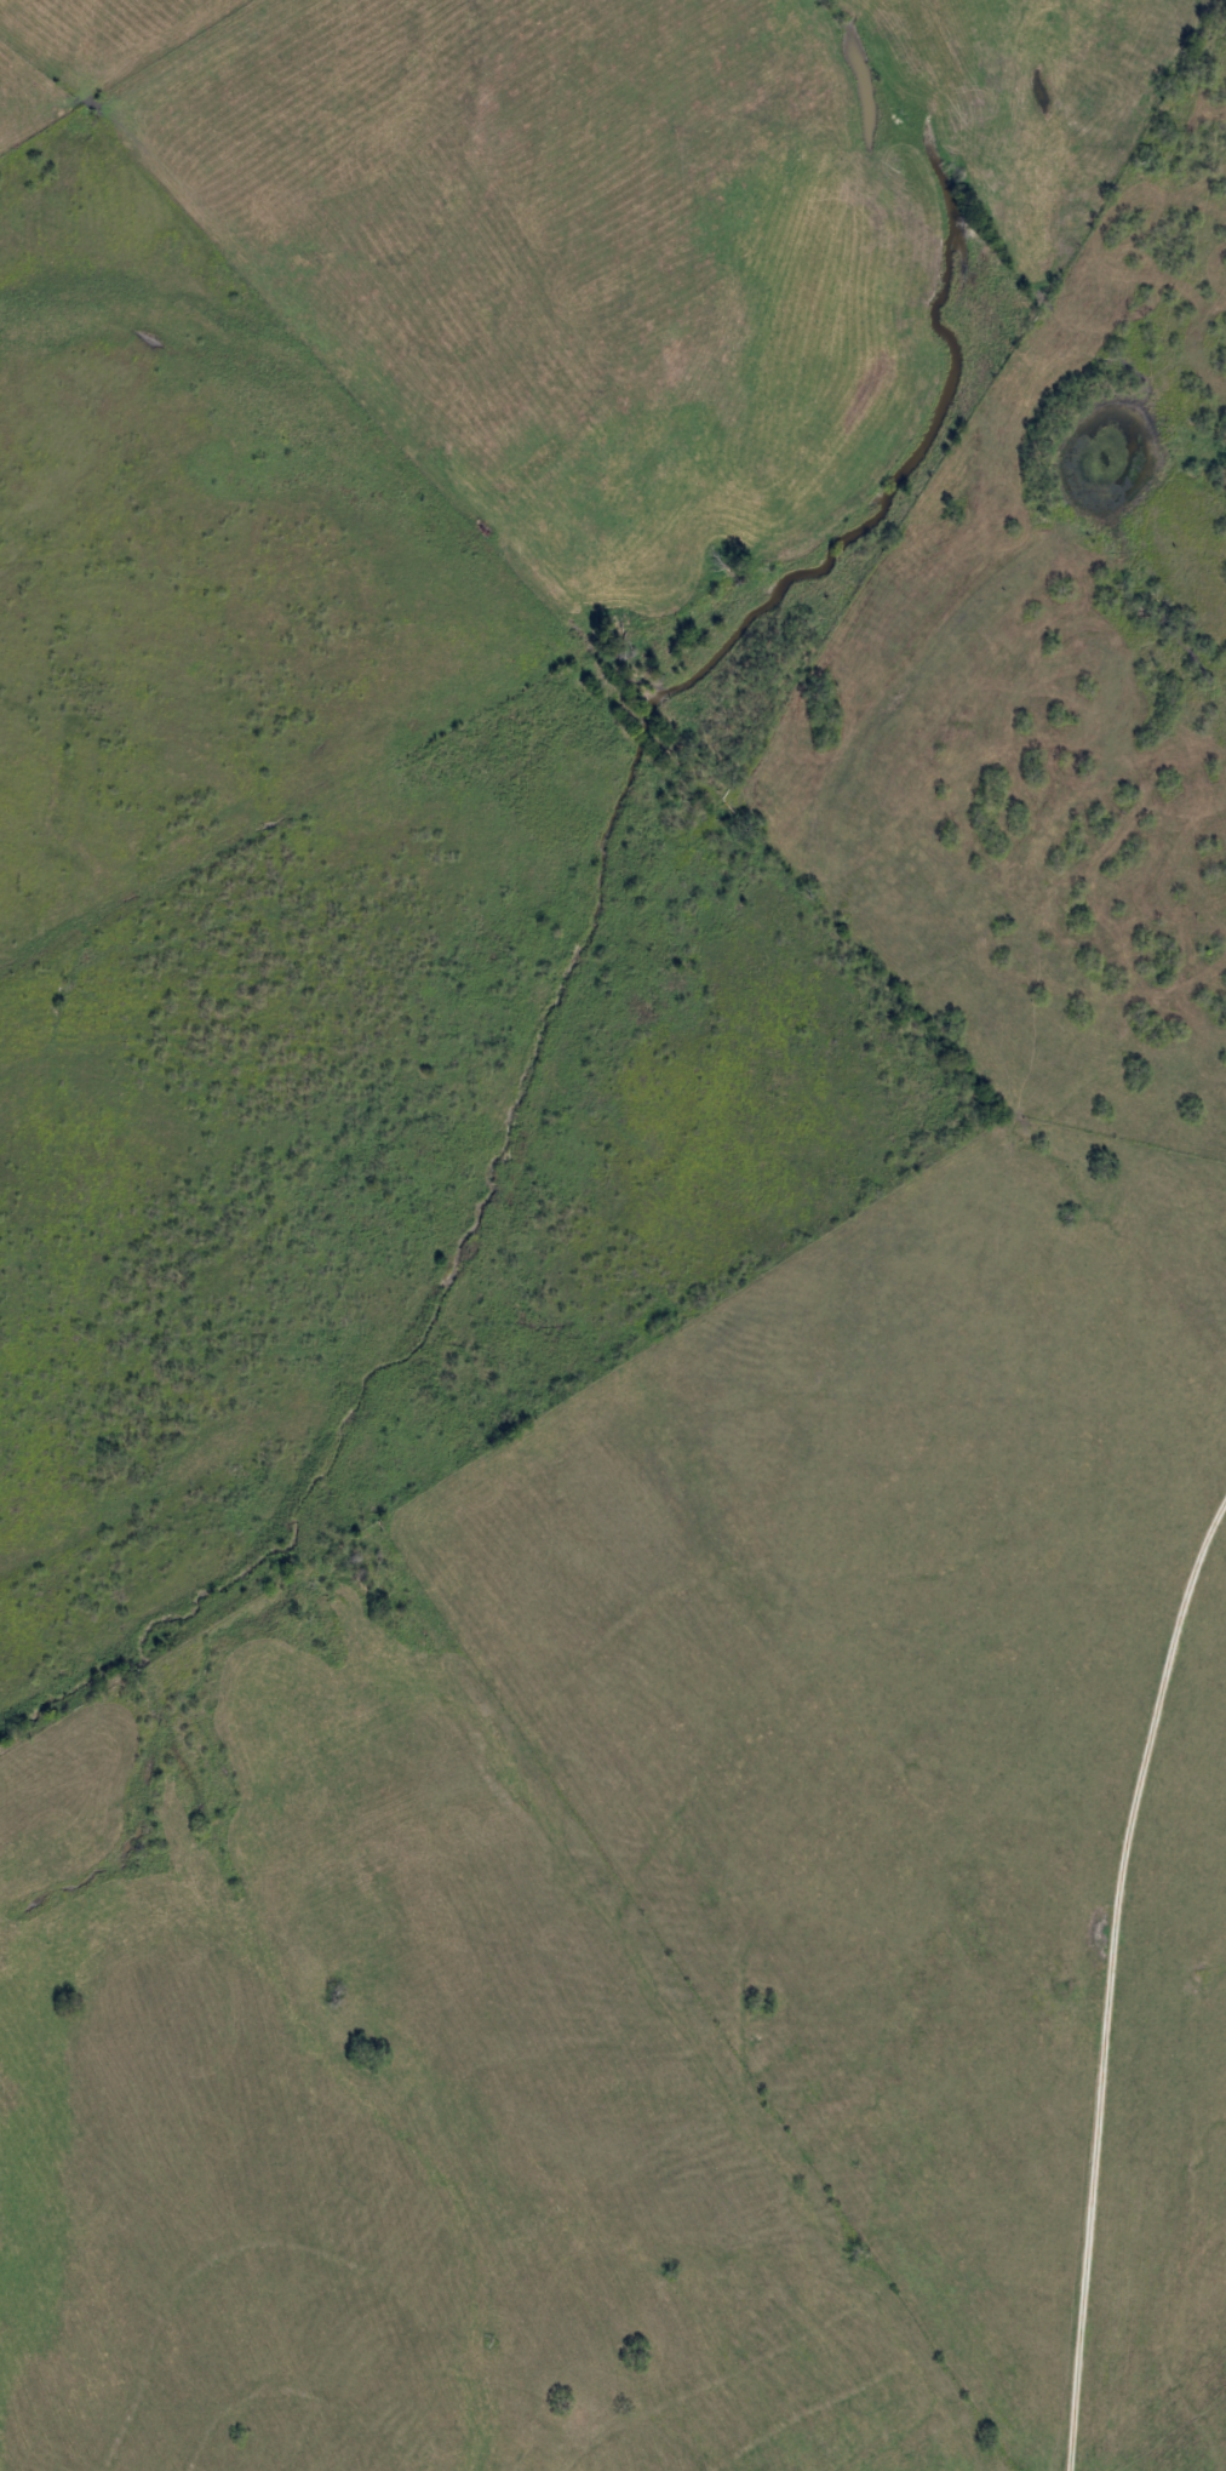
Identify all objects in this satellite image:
road: (1112, 1977)
building: (1061, 1989)

